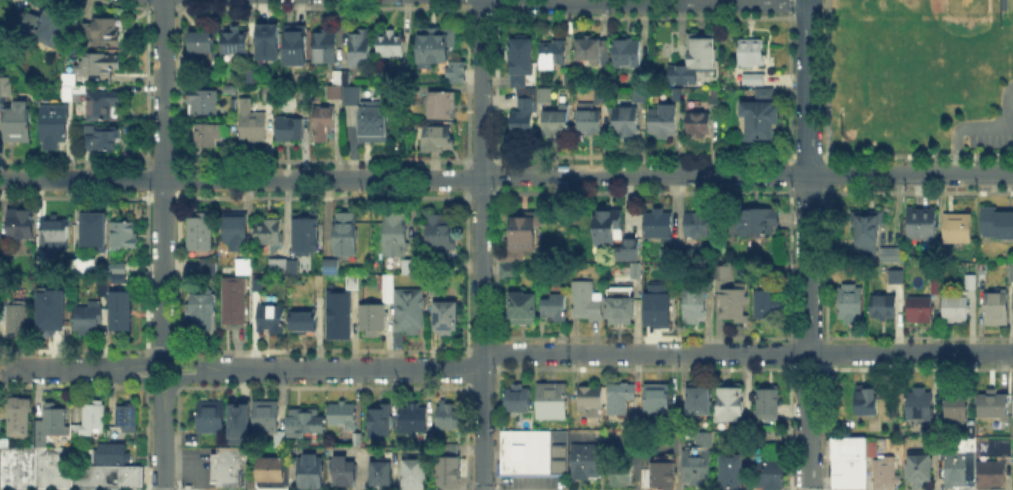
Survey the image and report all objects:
road: (808, 0)
road: (651, 1)
building: (47, 30)
building: (85, 30)
building: (106, 32)
building: (266, 39)
building: (433, 42)
building: (199, 43)
building: (238, 43)
building: (392, 45)
building: (295, 46)
park: (939, 46)
building: (325, 48)
building: (589, 49)
building: (749, 50)
building: (361, 51)
building: (553, 54)
building: (629, 54)
building: (698, 57)
building: (522, 58)
building: (99, 65)
building: (454, 70)
building: (405, 73)
building: (751, 76)
building: (69, 78)
building: (342, 78)
building: (569, 80)
building: (7, 89)
road: (163, 90)
building: (762, 91)
building: (230, 92)
building: (0, 94)
building: (70, 95)
building: (270, 95)
building: (640, 95)
building: (546, 97)
building: (602, 97)
building: (206, 104)
building: (715, 104)
park: (879, 104)
building: (103, 106)
building: (442, 106)
building: (523, 118)
building: (757, 118)
building: (375, 119)
building: (590, 120)
building: (626, 122)
building: (557, 123)
building: (664, 123)
building: (19, 124)
building: (324, 124)
building: (699, 125)
building: (56, 126)
road: (969, 126)
building: (255, 128)
building: (290, 131)
building: (211, 138)
building: (435, 138)
building: (102, 140)
parking lot: (990, 140)
building: (723, 149)
road: (587, 173)
road: (809, 176)
road: (81, 180)
building: (919, 220)
building: (995, 221)
building: (18, 222)
building: (755, 223)
building: (661, 225)
building: (698, 225)
building: (955, 225)
building: (864, 226)
building: (608, 227)
building: (93, 228)
building: (526, 229)
building: (56, 231)
building: (200, 232)
building: (237, 233)
building: (124, 234)
building: (269, 234)
building: (308, 234)
building: (347, 234)
building: (397, 234)
building: (442, 238)
road: (481, 245)
building: (630, 251)
building: (945, 252)
building: (686, 255)
building: (893, 256)
building: (513, 257)
building: (279, 266)
building: (332, 266)
building: (209, 267)
building: (88, 268)
building: (247, 268)
building: (293, 268)
building: (411, 268)
building: (448, 268)
building: (504, 268)
building: (390, 270)
building: (725, 271)
road: (163, 272)
building: (637, 272)
building: (1012, 272)
building: (510, 273)
building: (897, 277)
building: (971, 280)
building: (320, 284)
building: (354, 284)
building: (261, 285)
building: (938, 286)
building: (44, 289)
building: (438, 290)
building: (103, 291)
building: (389, 298)
building: (119, 299)
building: (233, 301)
building: (587, 302)
building: (768, 304)
building: (851, 304)
building: (736, 305)
building: (695, 306)
building: (1012, 307)
building: (884, 308)
building: (998, 309)
building: (524, 310)
building: (556, 310)
building: (659, 310)
building: (921, 310)
building: (957, 310)
building: (204, 311)
building: (621, 313)
building: (411, 315)
building: (341, 316)
building: (58, 319)
building: (89, 319)
building: (448, 319)
building: (18, 320)
building: (272, 320)
building: (374, 320)
building: (306, 323)
road: (613, 353)
road: (789, 360)
road: (825, 360)
road: (163, 364)
road: (197, 364)
road: (125, 366)
road: (50, 369)
road: (807, 372)
road: (150, 373)
road: (176, 373)
road: (124, 377)
road: (197, 377)
road: (808, 386)
building: (622, 398)
building: (701, 398)
road: (156, 399)
road: (168, 399)
building: (519, 400)
building: (660, 400)
building: (869, 401)
building: (591, 402)
building: (554, 403)
building: (767, 403)
building: (921, 404)
building: (730, 405)
building: (994, 405)
building: (958, 407)
building: (17, 414)
building: (125, 415)
building: (345, 416)
building: (91, 417)
building: (451, 417)
building: (212, 418)
building: (266, 418)
building: (411, 418)
road: (808, 418)
building: (239, 421)
building: (49, 422)
building: (383, 422)
building: (306, 423)
building: (637, 423)
building: (74, 430)
building: (110, 430)
building: (427, 437)
building: (702, 437)
building: (360, 441)
building: (282, 443)
building: (997, 444)
building: (870, 447)
building: (449, 448)
building: (107, 452)
building: (534, 452)
road: (162, 453)
building: (583, 459)
road: (808, 463)
building: (845, 463)
road: (178, 464)
building: (695, 465)
building: (17, 466)
building: (52, 466)
parking lot: (194, 466)
building: (228, 466)
building: (915, 468)
building: (342, 469)
building: (619, 469)
building: (729, 469)
building: (308, 470)
building: (955, 470)
building: (270, 471)
building: (379, 471)
building: (659, 471)
building: (412, 472)
building: (445, 473)
building: (767, 473)
building: (104, 474)
building: (882, 474)
building: (988, 476)
parking lot: (534, 481)
road: (185, 489)

